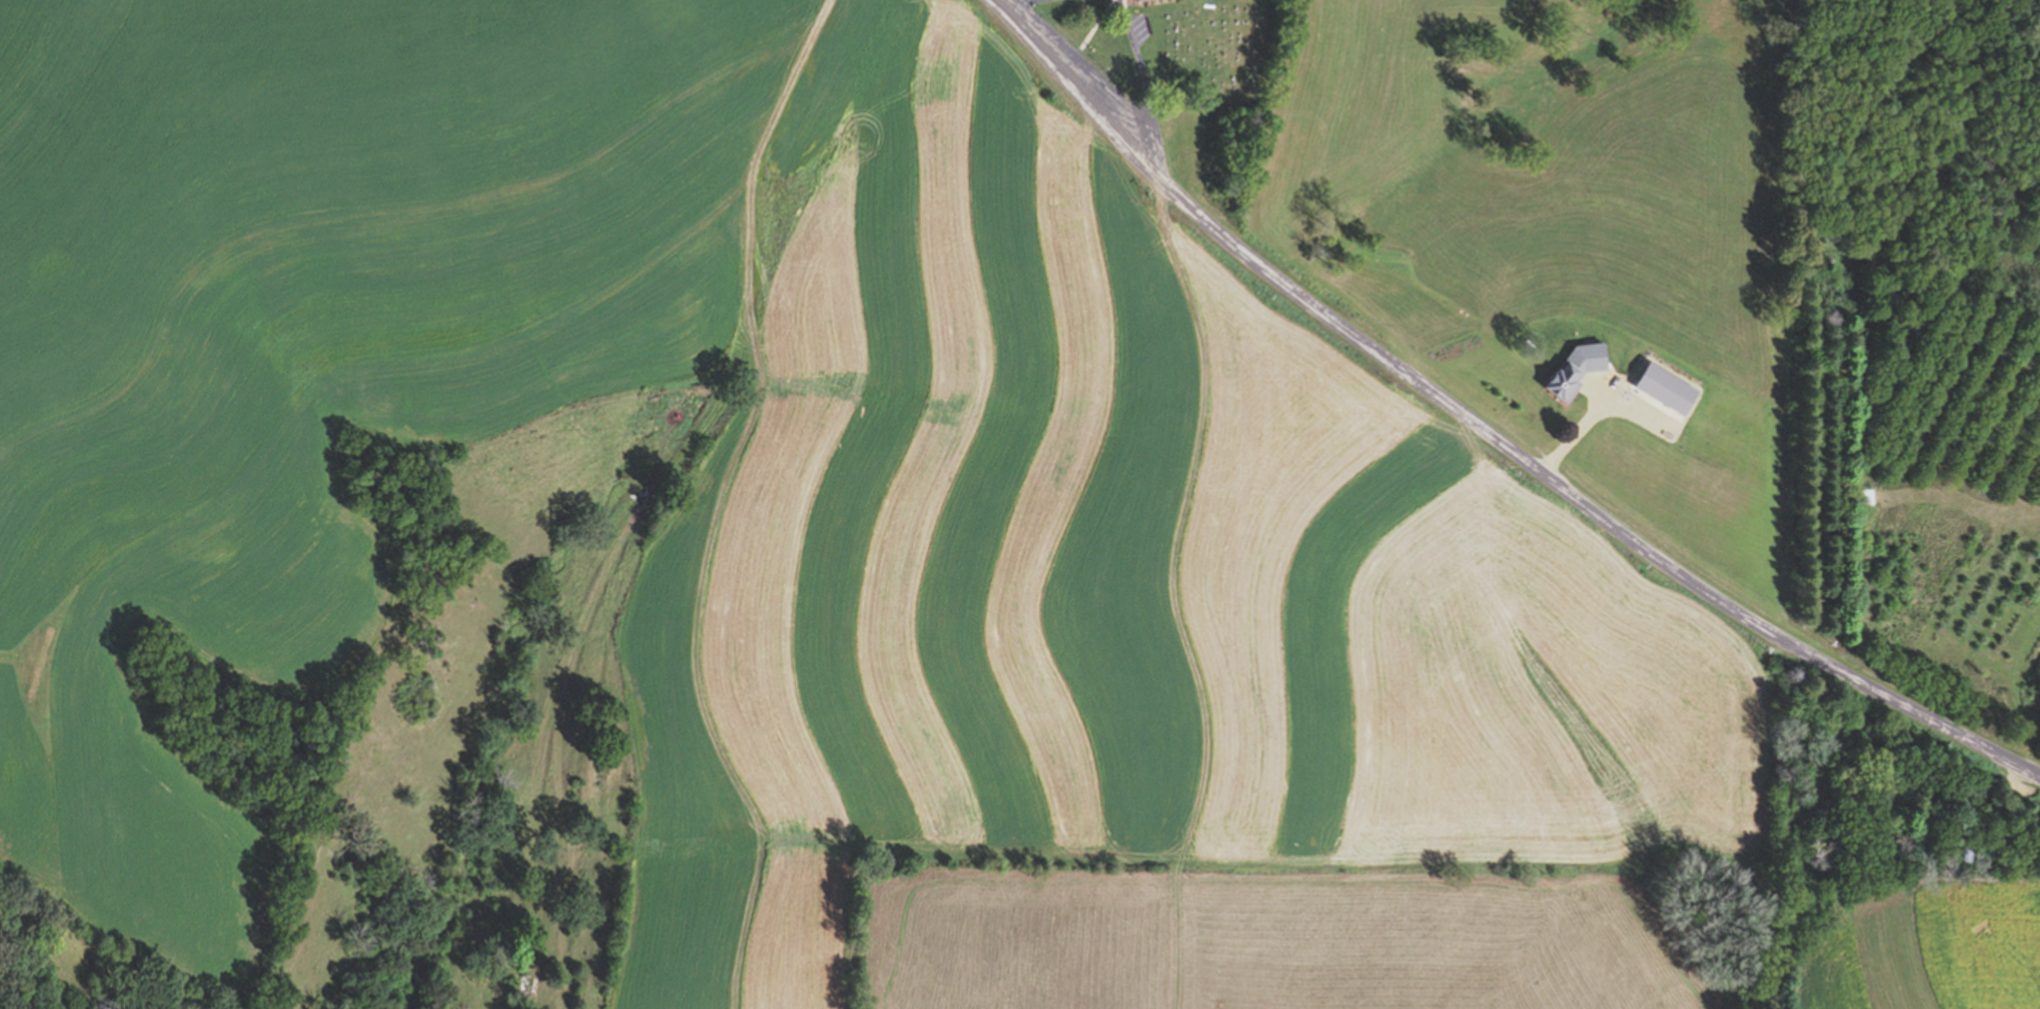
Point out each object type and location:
park: (1180, 44)
building: (1650, 368)
building: (1566, 380)
road: (1485, 428)
road: (670, 468)
building: (1866, 497)
building: (1825, 803)
building: (2034, 827)
building: (1961, 849)

